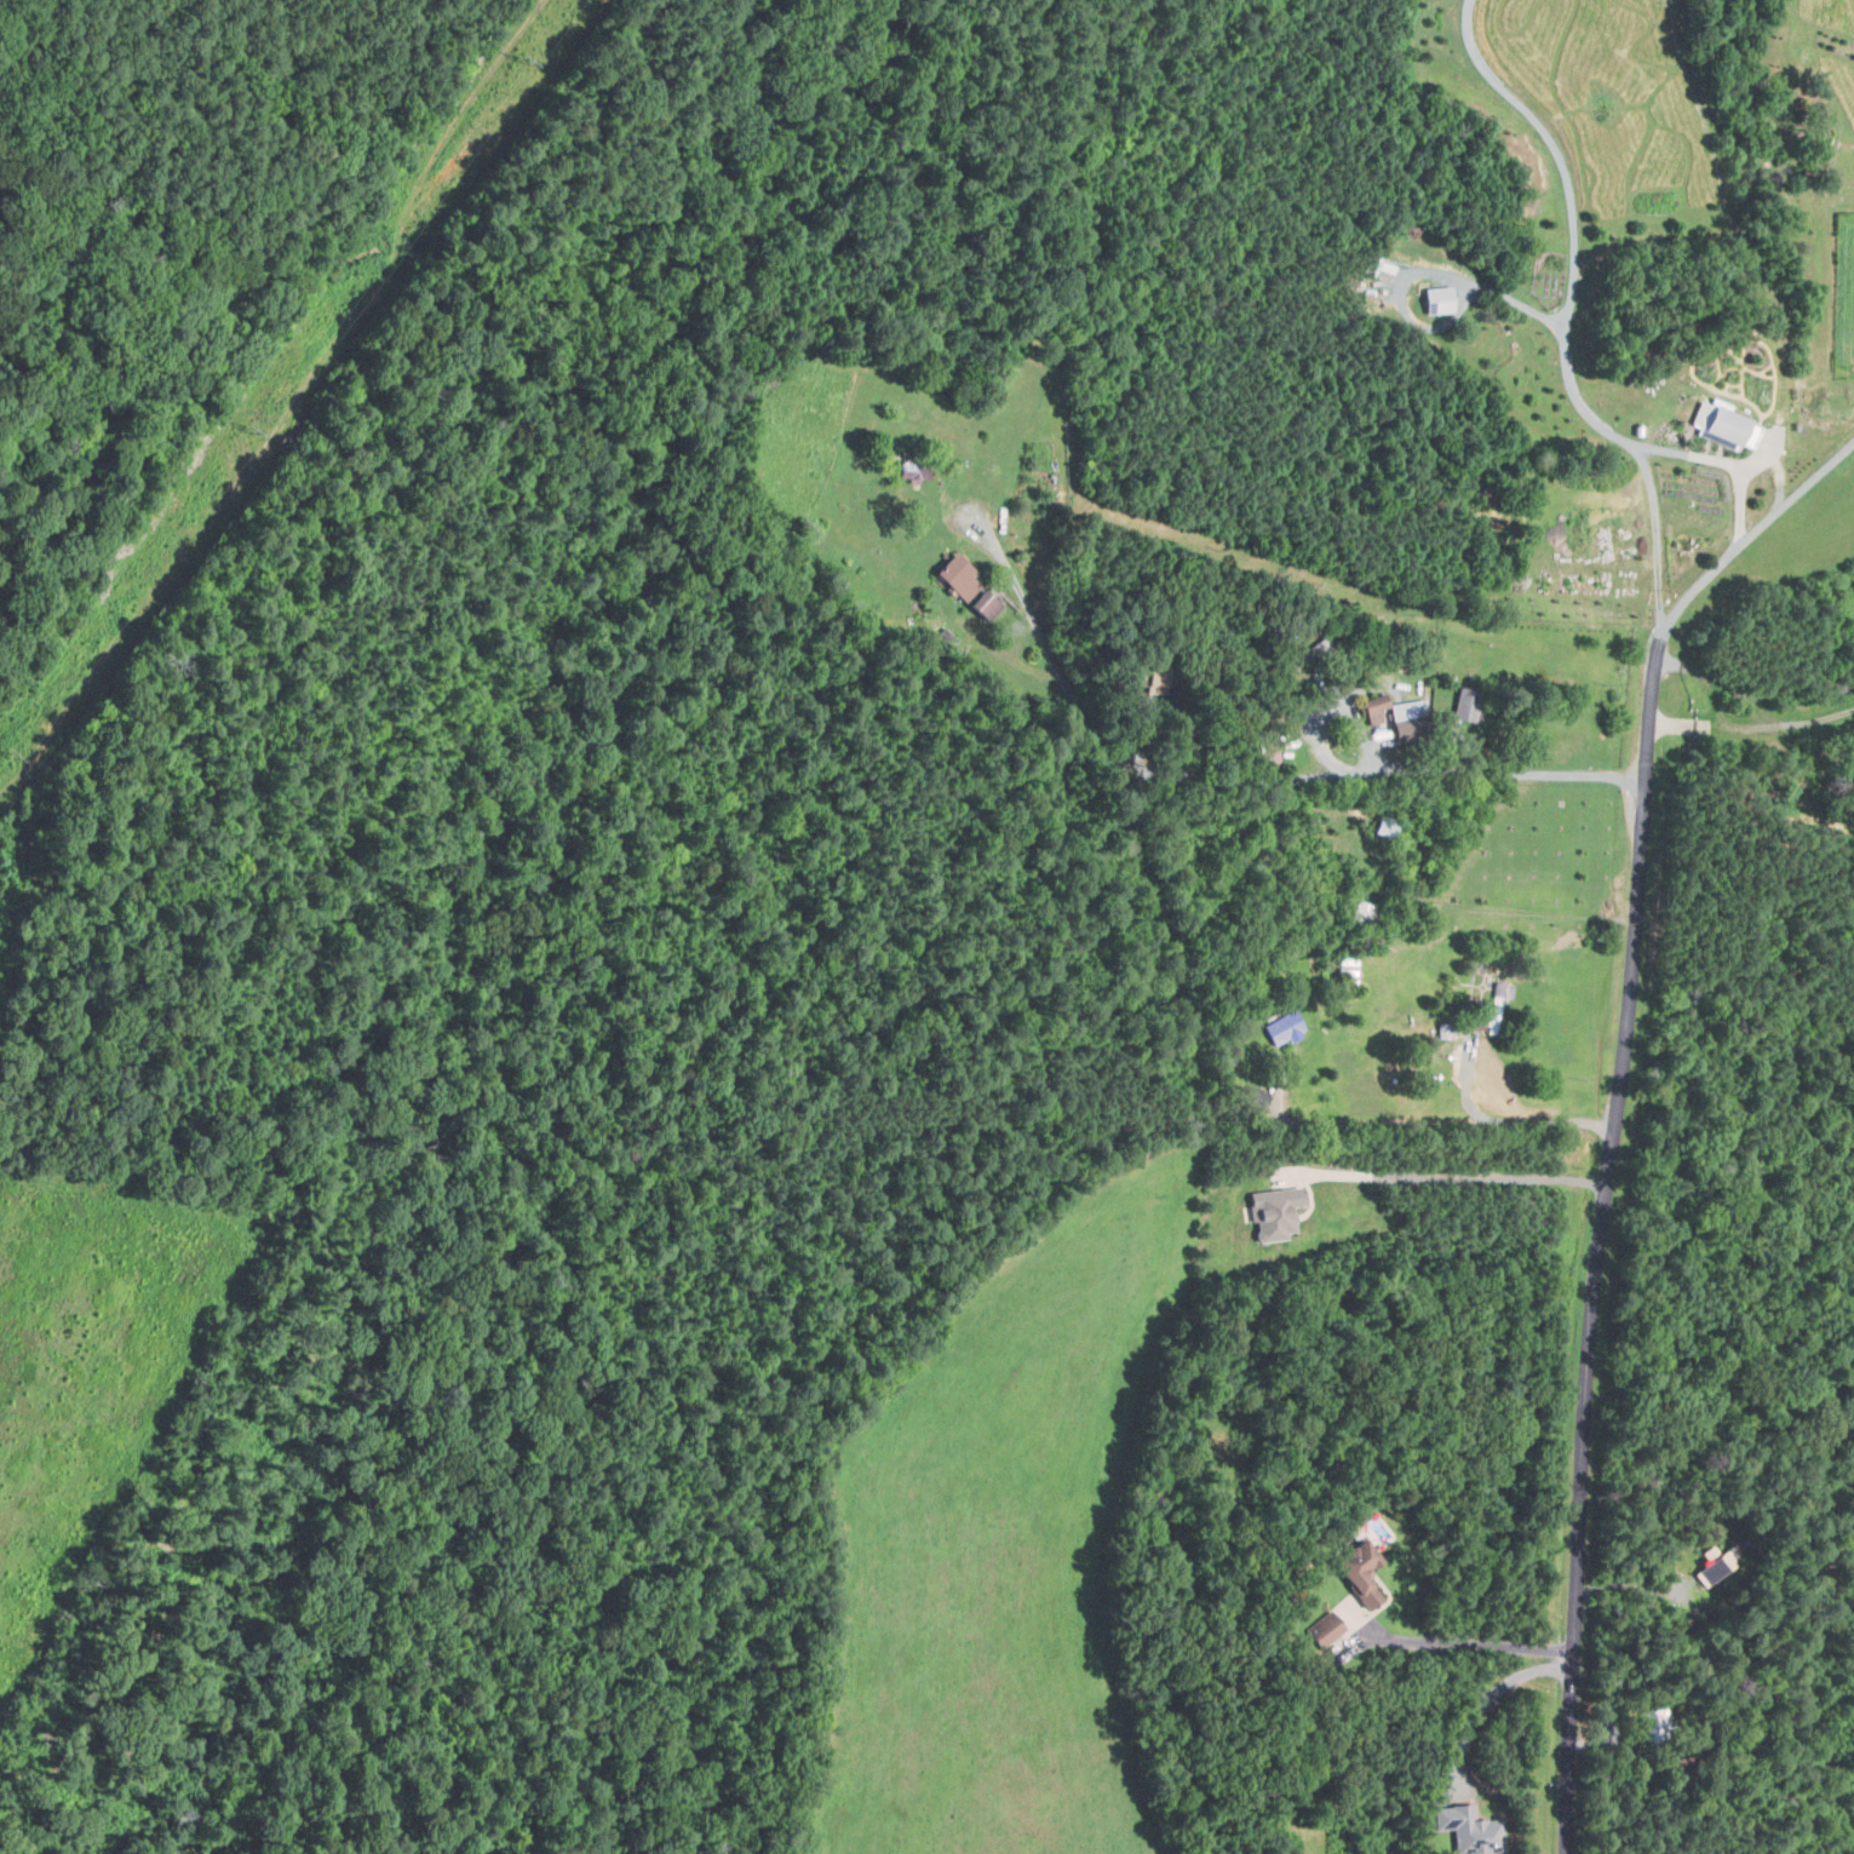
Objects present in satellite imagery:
building: (1376, 262)
road: (1482, 288)
building: (1435, 298)
road: (1567, 310)
building: (1720, 424)
building: (1636, 426)
road: (1651, 540)
building: (963, 575)
building: (991, 605)
road: (1058, 671)
building: (1379, 708)
building: (1407, 721)
road: (1746, 725)
road: (1371, 774)
road: (1815, 780)
building: (1384, 823)
building: (1286, 949)
building: (1287, 1028)
building: (1442, 1029)
building: (1257, 1098)
road: (1619, 1106)
road: (1273, 1117)
road: (1445, 1183)
building: (1272, 1210)
building: (1356, 1569)
building: (1710, 1572)
building: (1299, 1589)
building: (1326, 1631)
road: (1460, 1643)
building: (1468, 1829)

